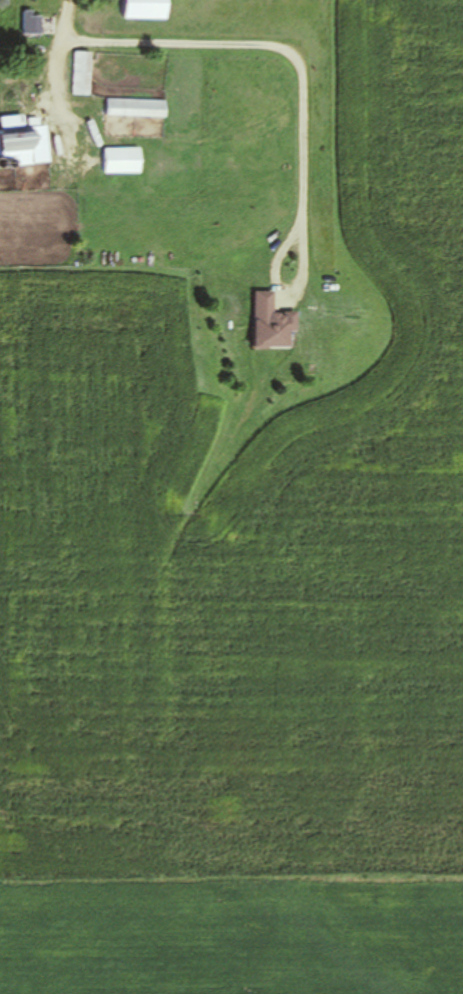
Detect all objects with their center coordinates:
building: (147, 9)
building: (32, 21)
road: (57, 66)
building: (82, 72)
building: (137, 107)
road: (303, 109)
building: (23, 142)
building: (123, 160)
building: (272, 323)

